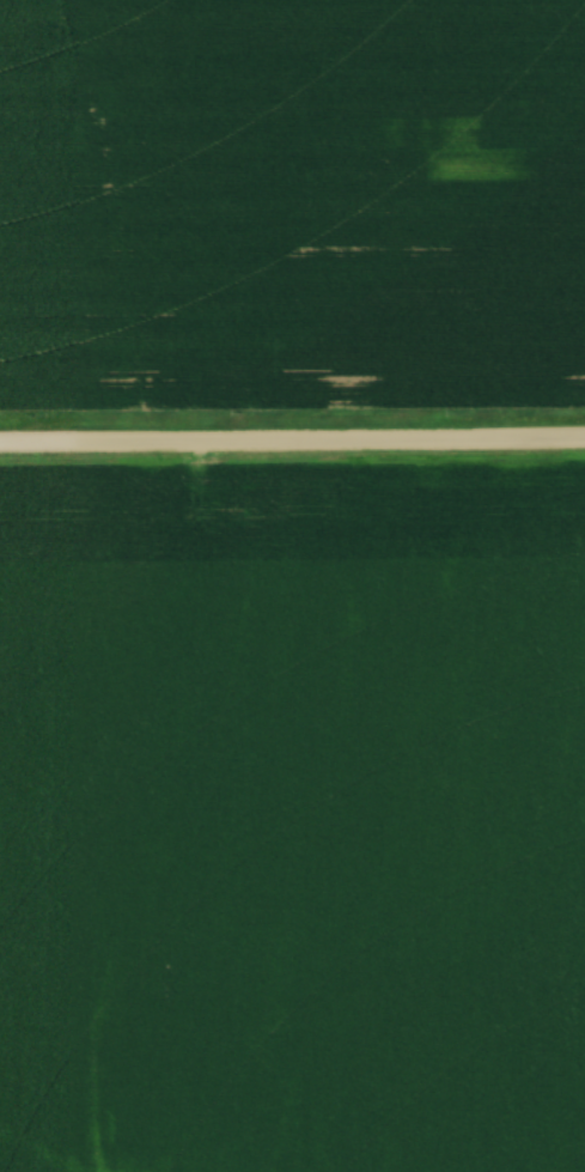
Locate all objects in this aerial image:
road: (292, 444)

